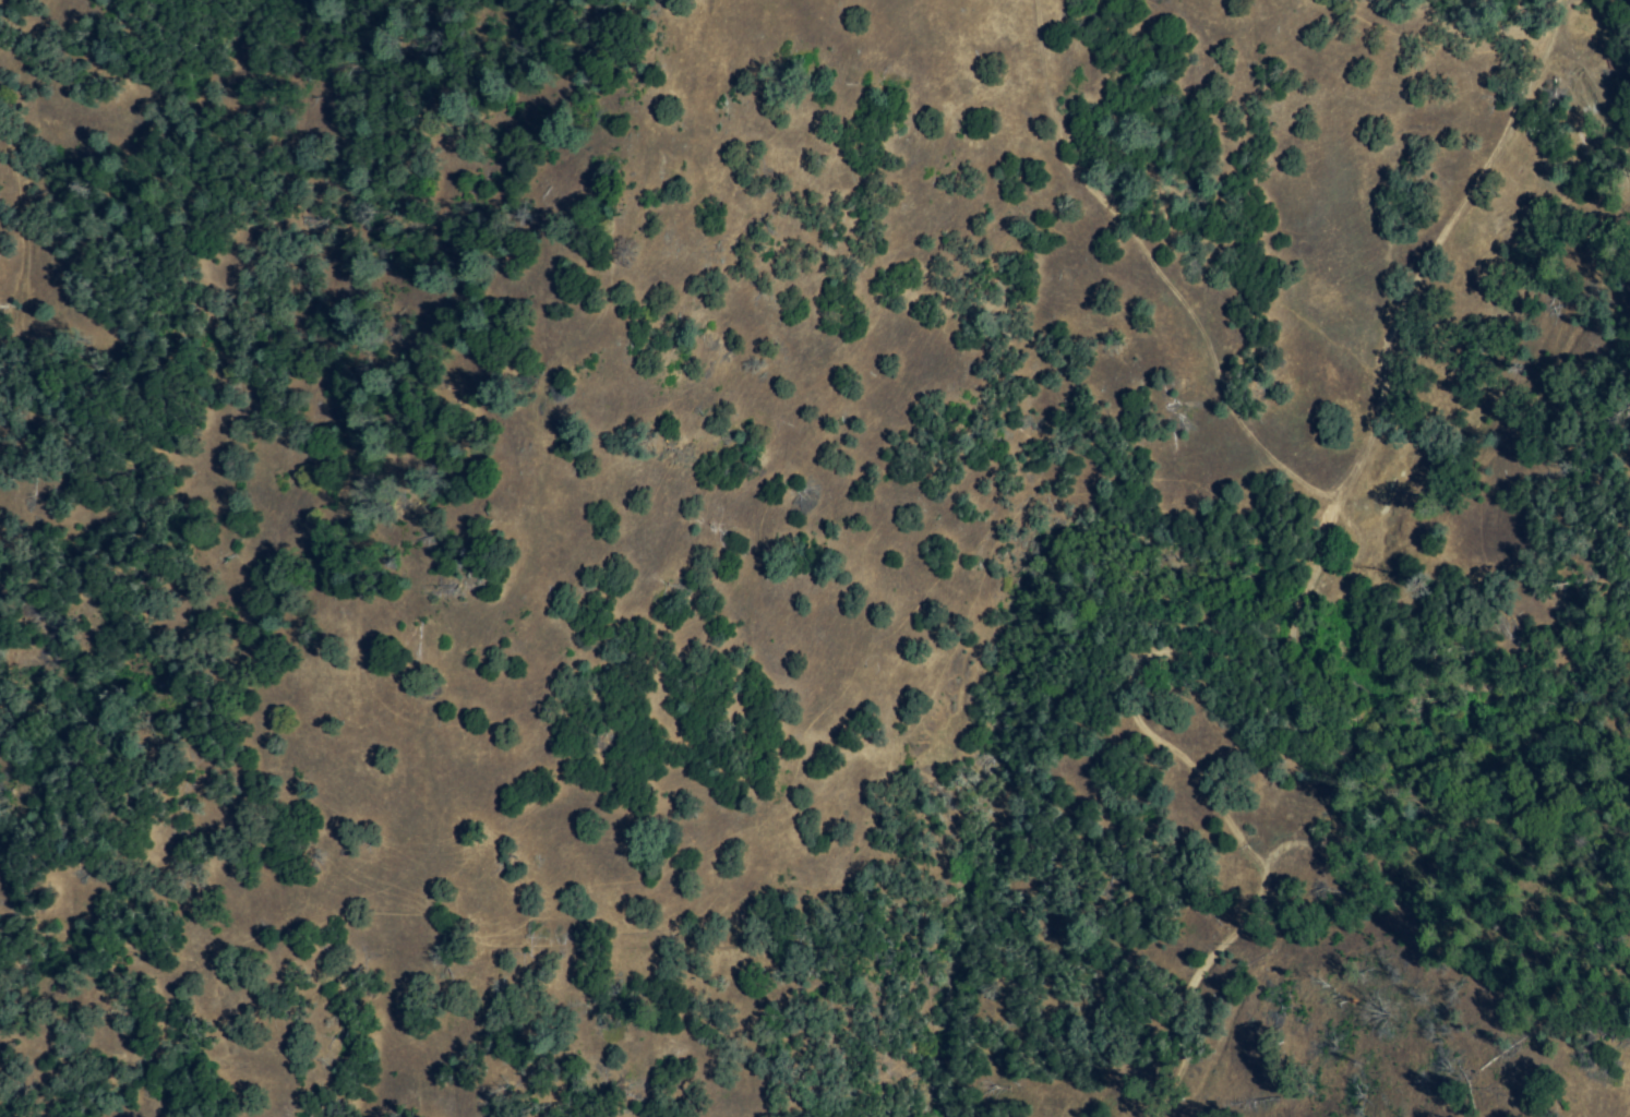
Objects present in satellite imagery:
road: (1301, 845)

